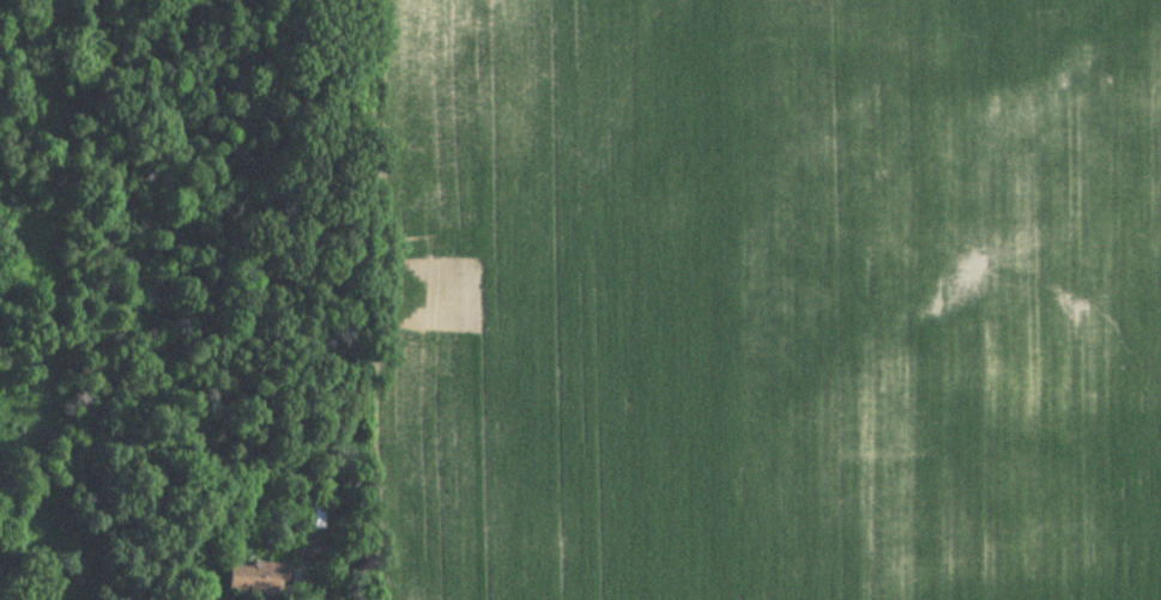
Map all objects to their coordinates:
building: (313, 516)
road: (306, 576)
building: (258, 581)

